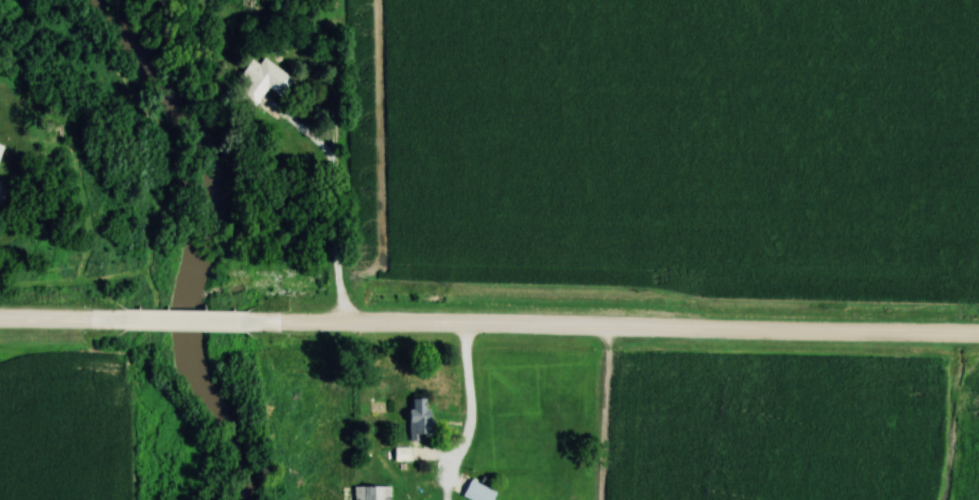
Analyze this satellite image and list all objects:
building: (259, 80)
road: (336, 203)
river: (208, 233)
road: (62, 318)
road: (192, 321)
road: (619, 331)
road: (469, 417)
building: (412, 419)
building: (399, 453)
building: (368, 492)

